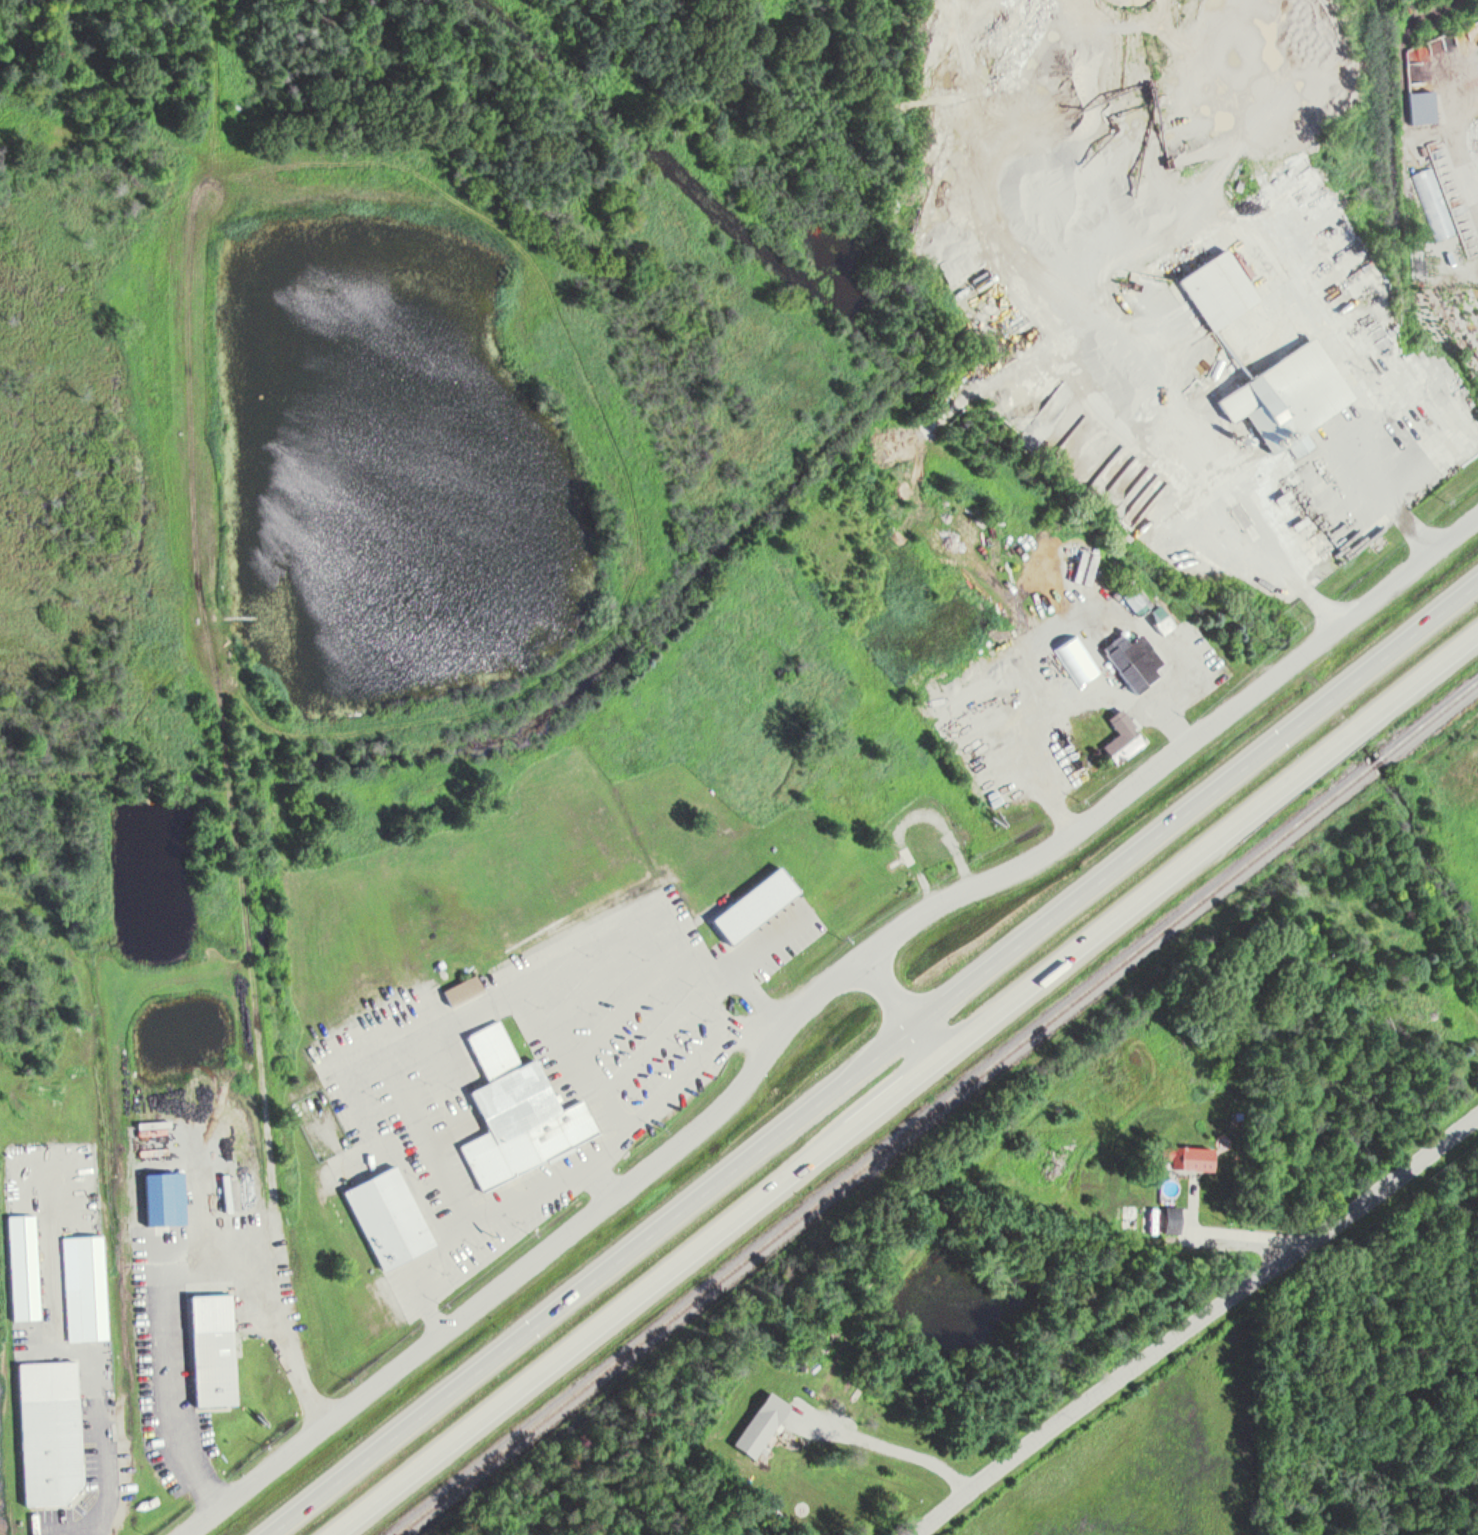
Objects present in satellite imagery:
building: (1432, 203)
road: (1135, 229)
building: (1215, 289)
building: (1286, 397)
building: (1132, 600)
building: (1132, 658)
road: (227, 713)
building: (1121, 737)
building: (461, 990)
road: (810, 999)
road: (899, 1006)
road: (872, 1057)
road: (905, 1082)
railway: (936, 1108)
building: (516, 1112)
building: (1186, 1157)
building: (387, 1217)
building: (1171, 1219)
building: (85, 1314)
road: (1195, 1321)
building: (211, 1350)
road: (890, 1443)
building: (48, 1450)
building: (394, 1485)

